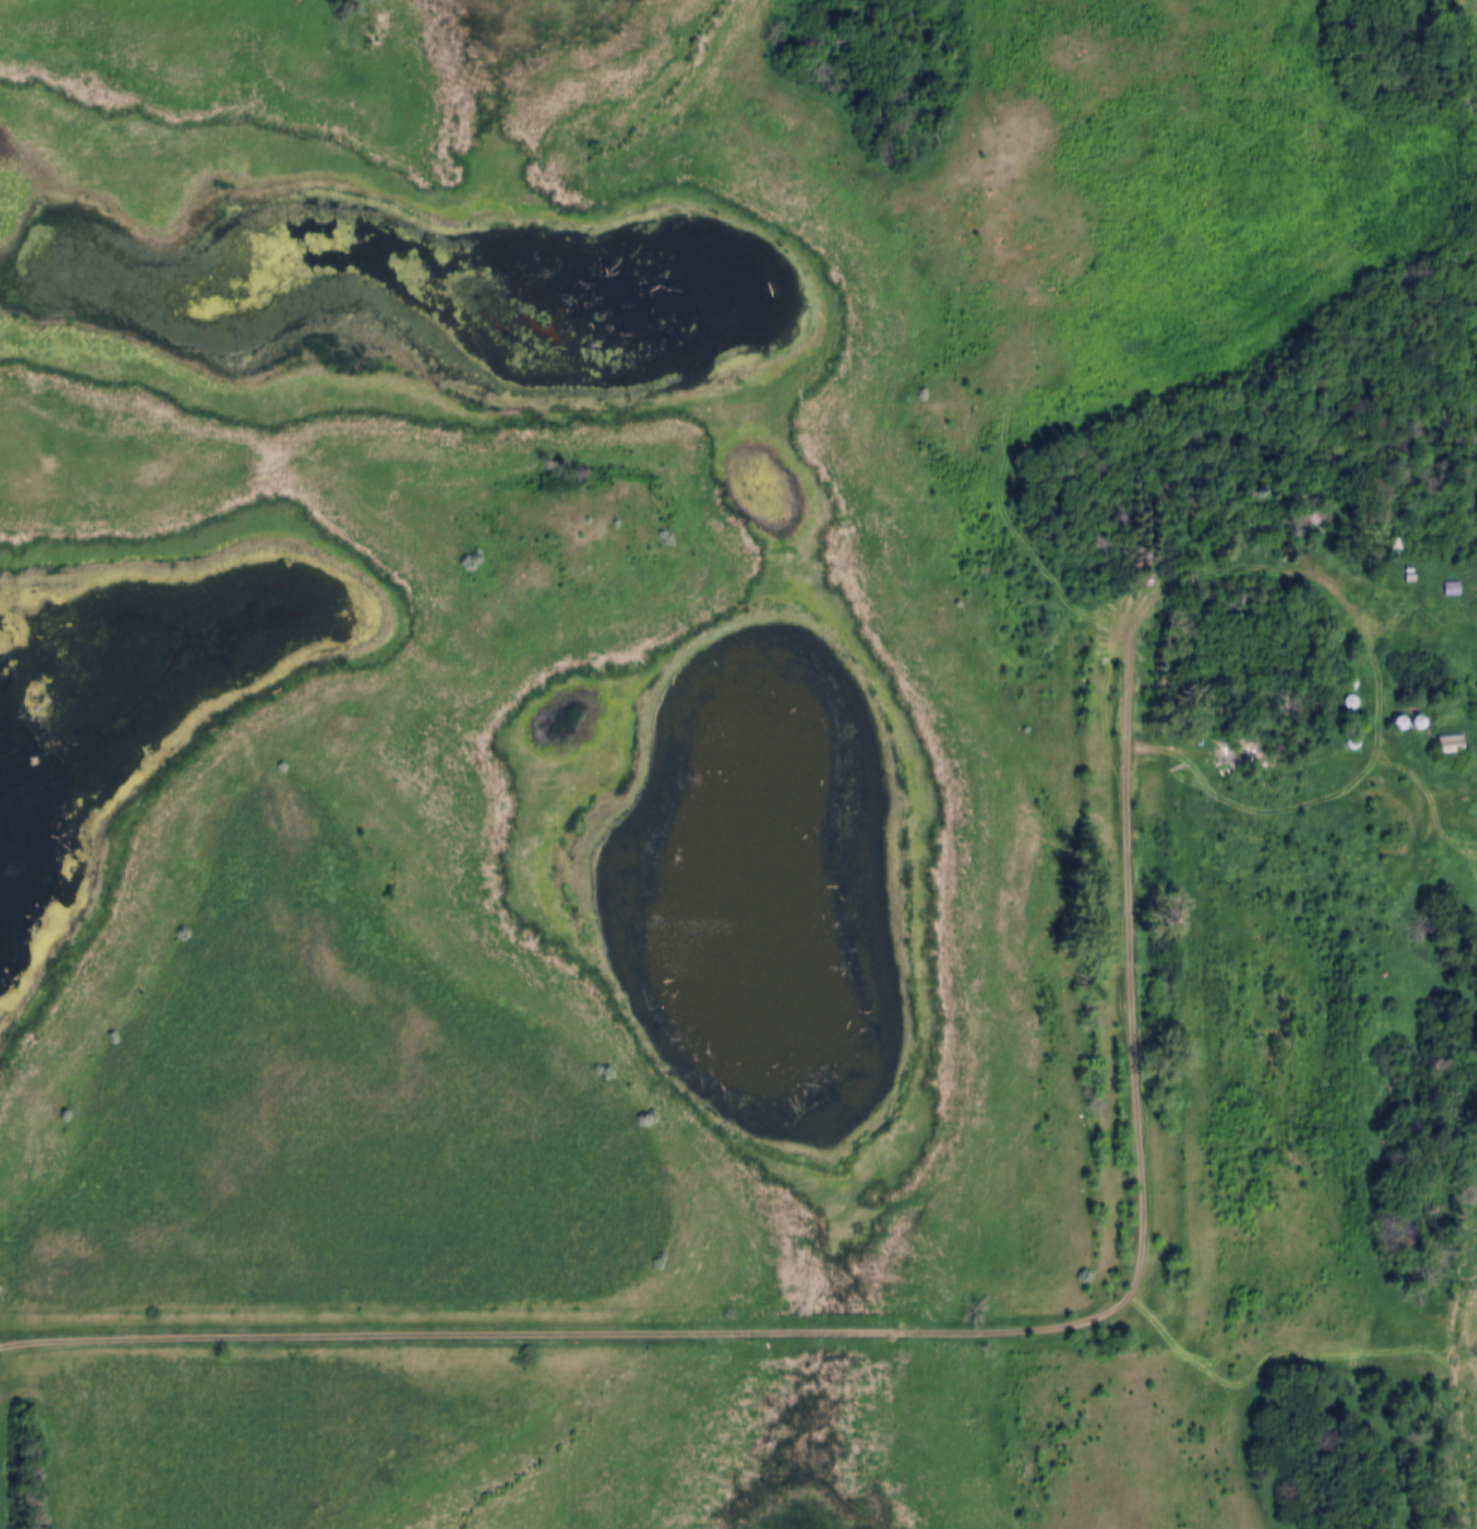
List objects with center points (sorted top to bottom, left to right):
building: (1389, 540)
building: (1396, 549)
building: (1403, 560)
building: (1403, 569)
building: (1443, 579)
building: (1452, 588)
building: (1346, 675)
silo: (1346, 675)
building: (1346, 693)
silo: (1346, 693)
building: (1409, 713)
silo: (1409, 713)
building: (1347, 714)
silo: (1347, 714)
building: (1391, 714)
silo: (1391, 714)
building: (1245, 732)
building: (1348, 733)
silo: (1348, 733)
building: (1442, 737)
building: (1450, 744)
road: (1031, 1330)

